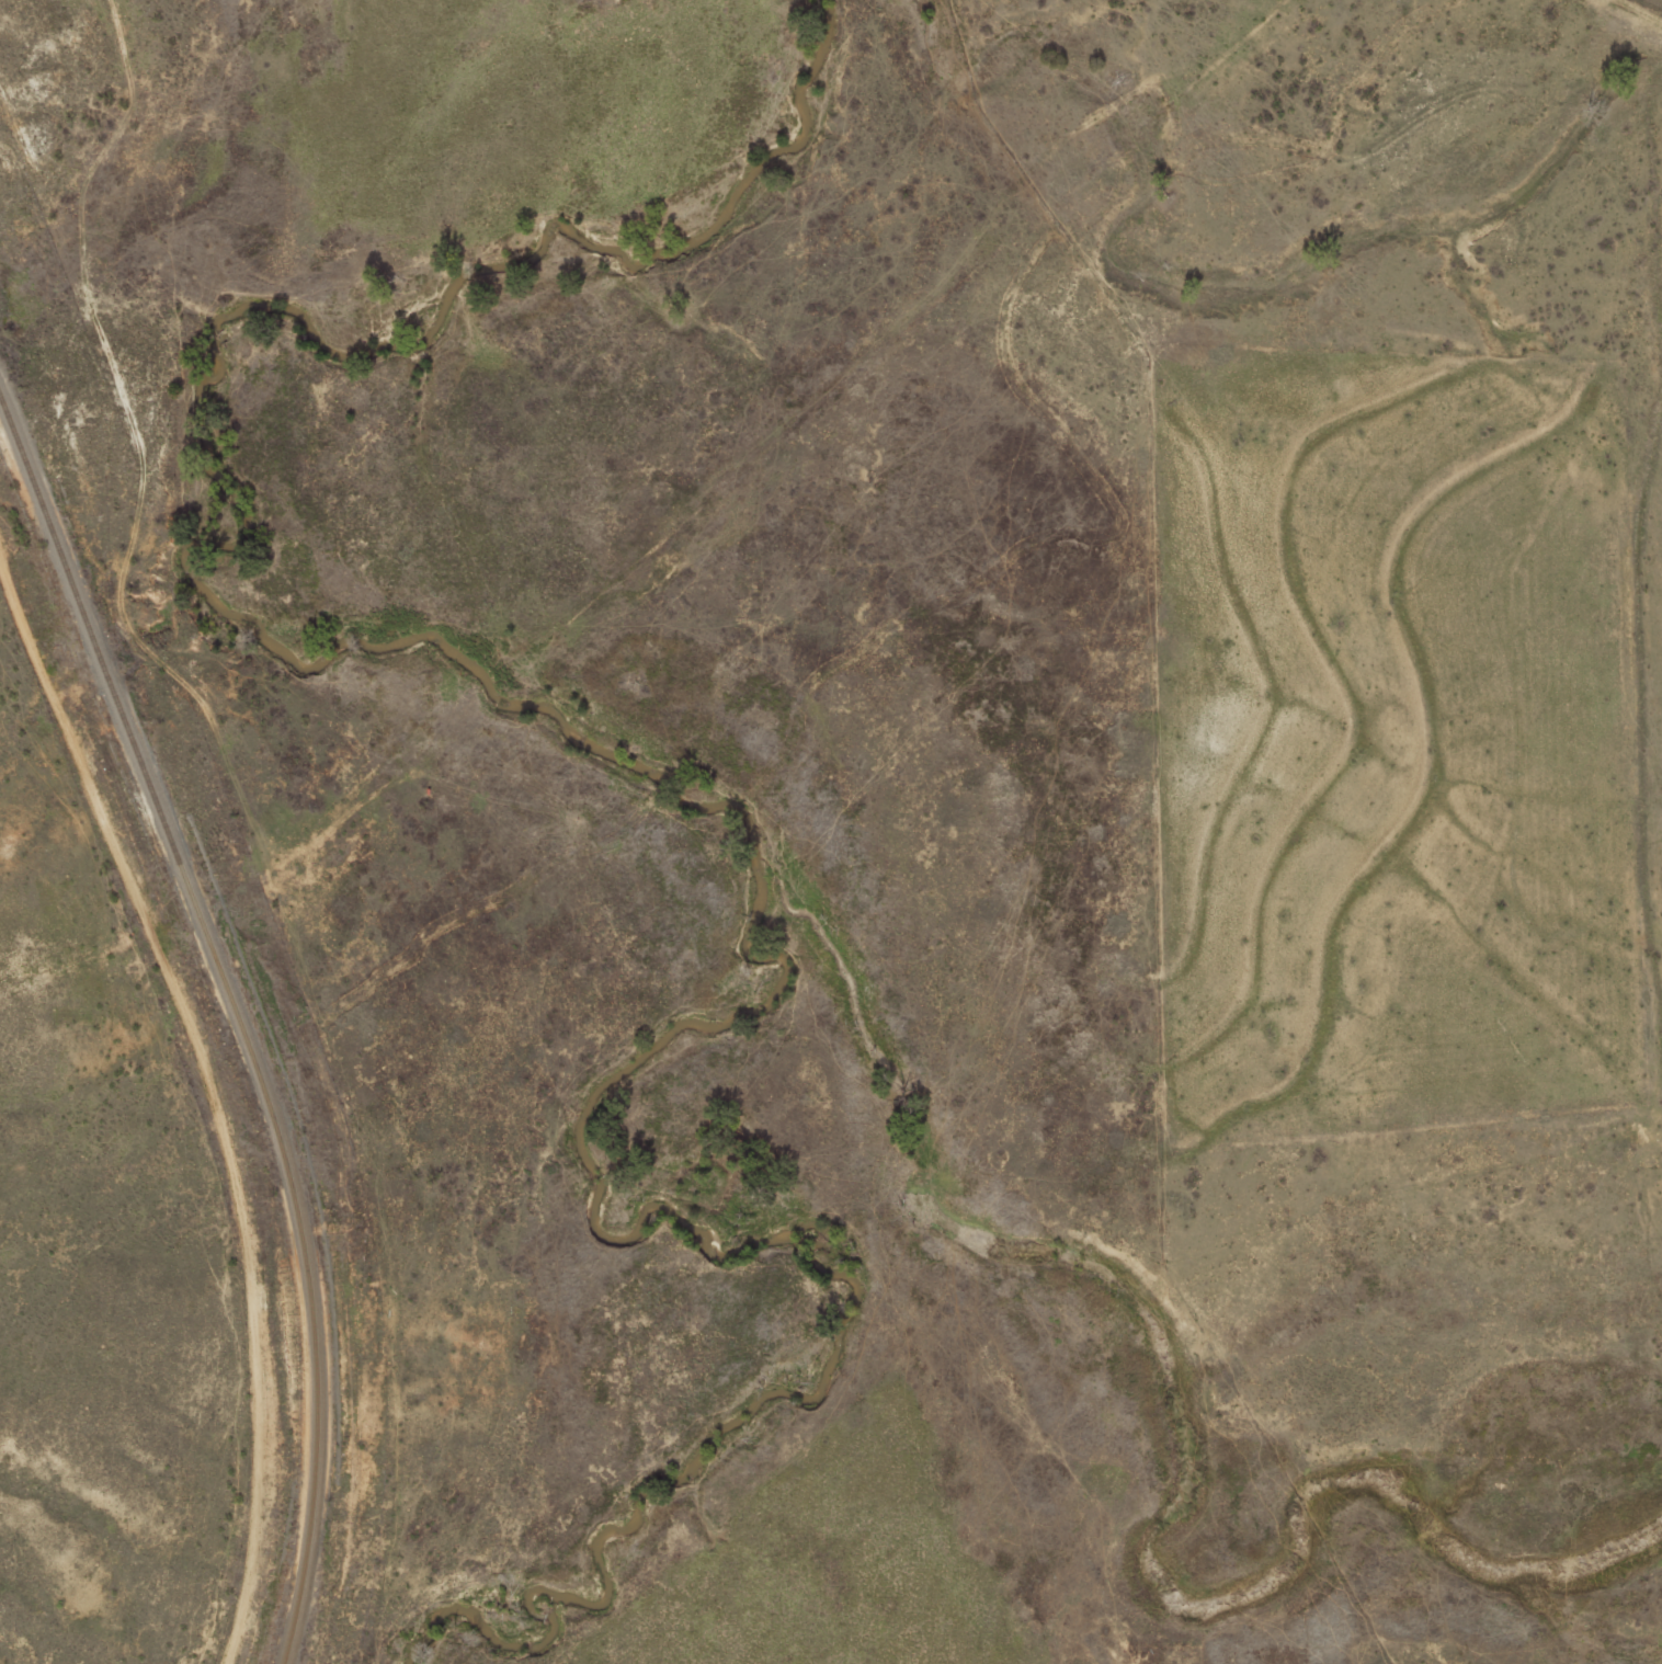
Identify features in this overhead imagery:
road: (1631, 293)
railway: (124, 717)
road: (1630, 844)
railway: (320, 1353)

